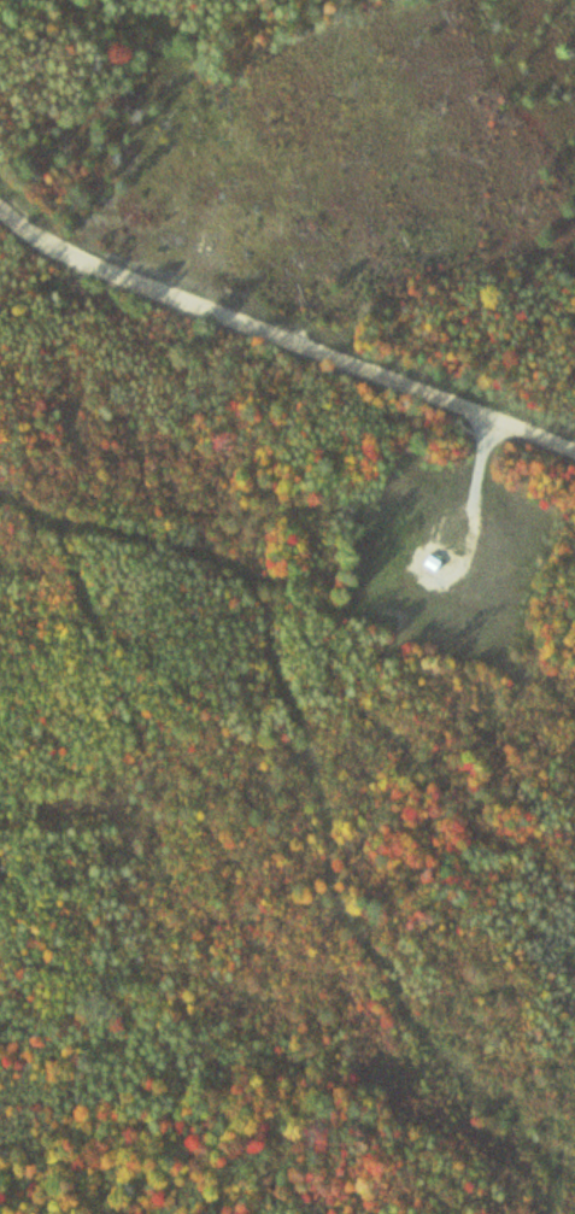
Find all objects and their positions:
road: (277, 315)
petroleum well: (423, 561)
building: (426, 563)

